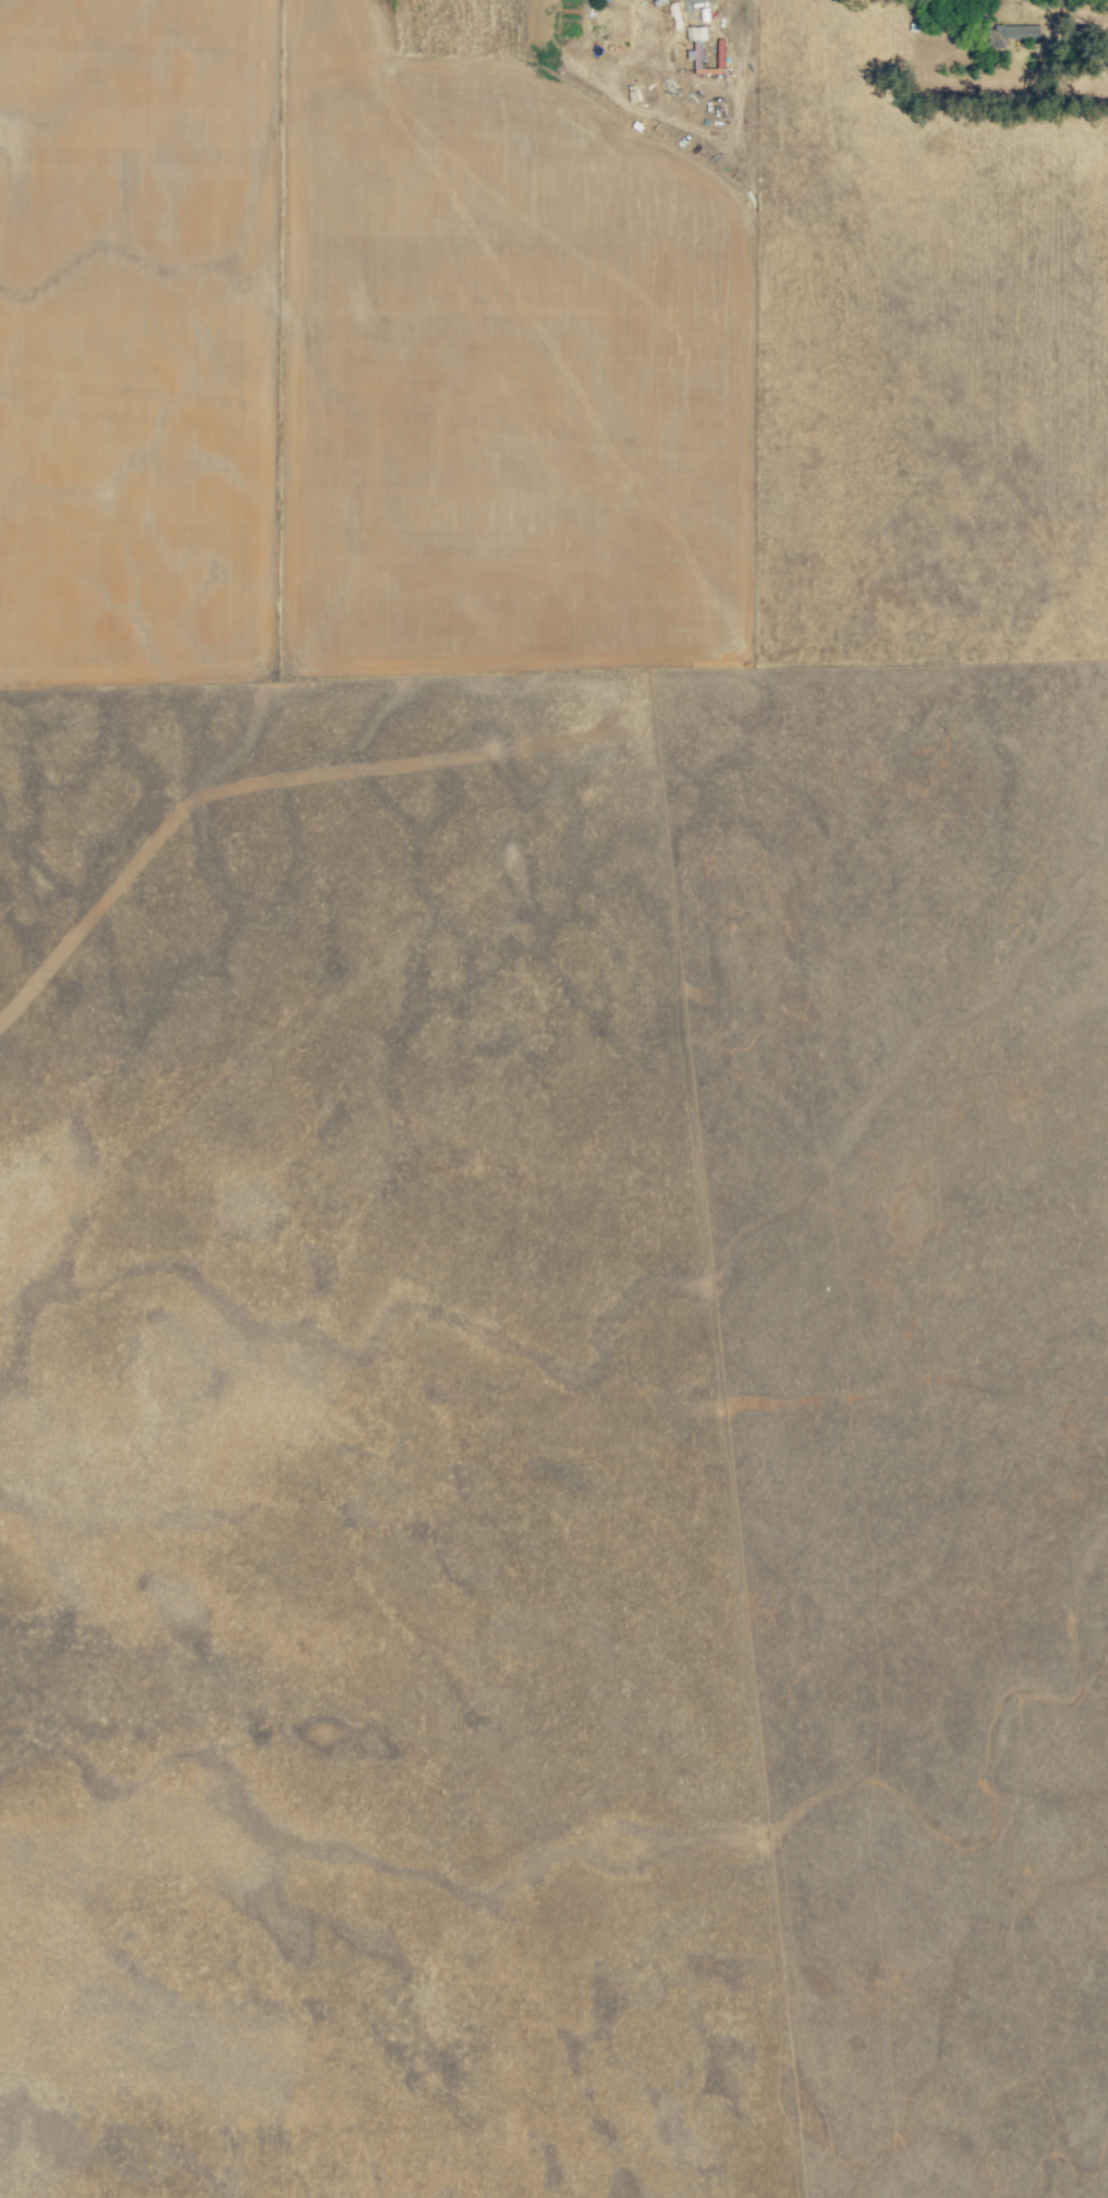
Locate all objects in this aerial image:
building: (1016, 34)
building: (695, 44)

